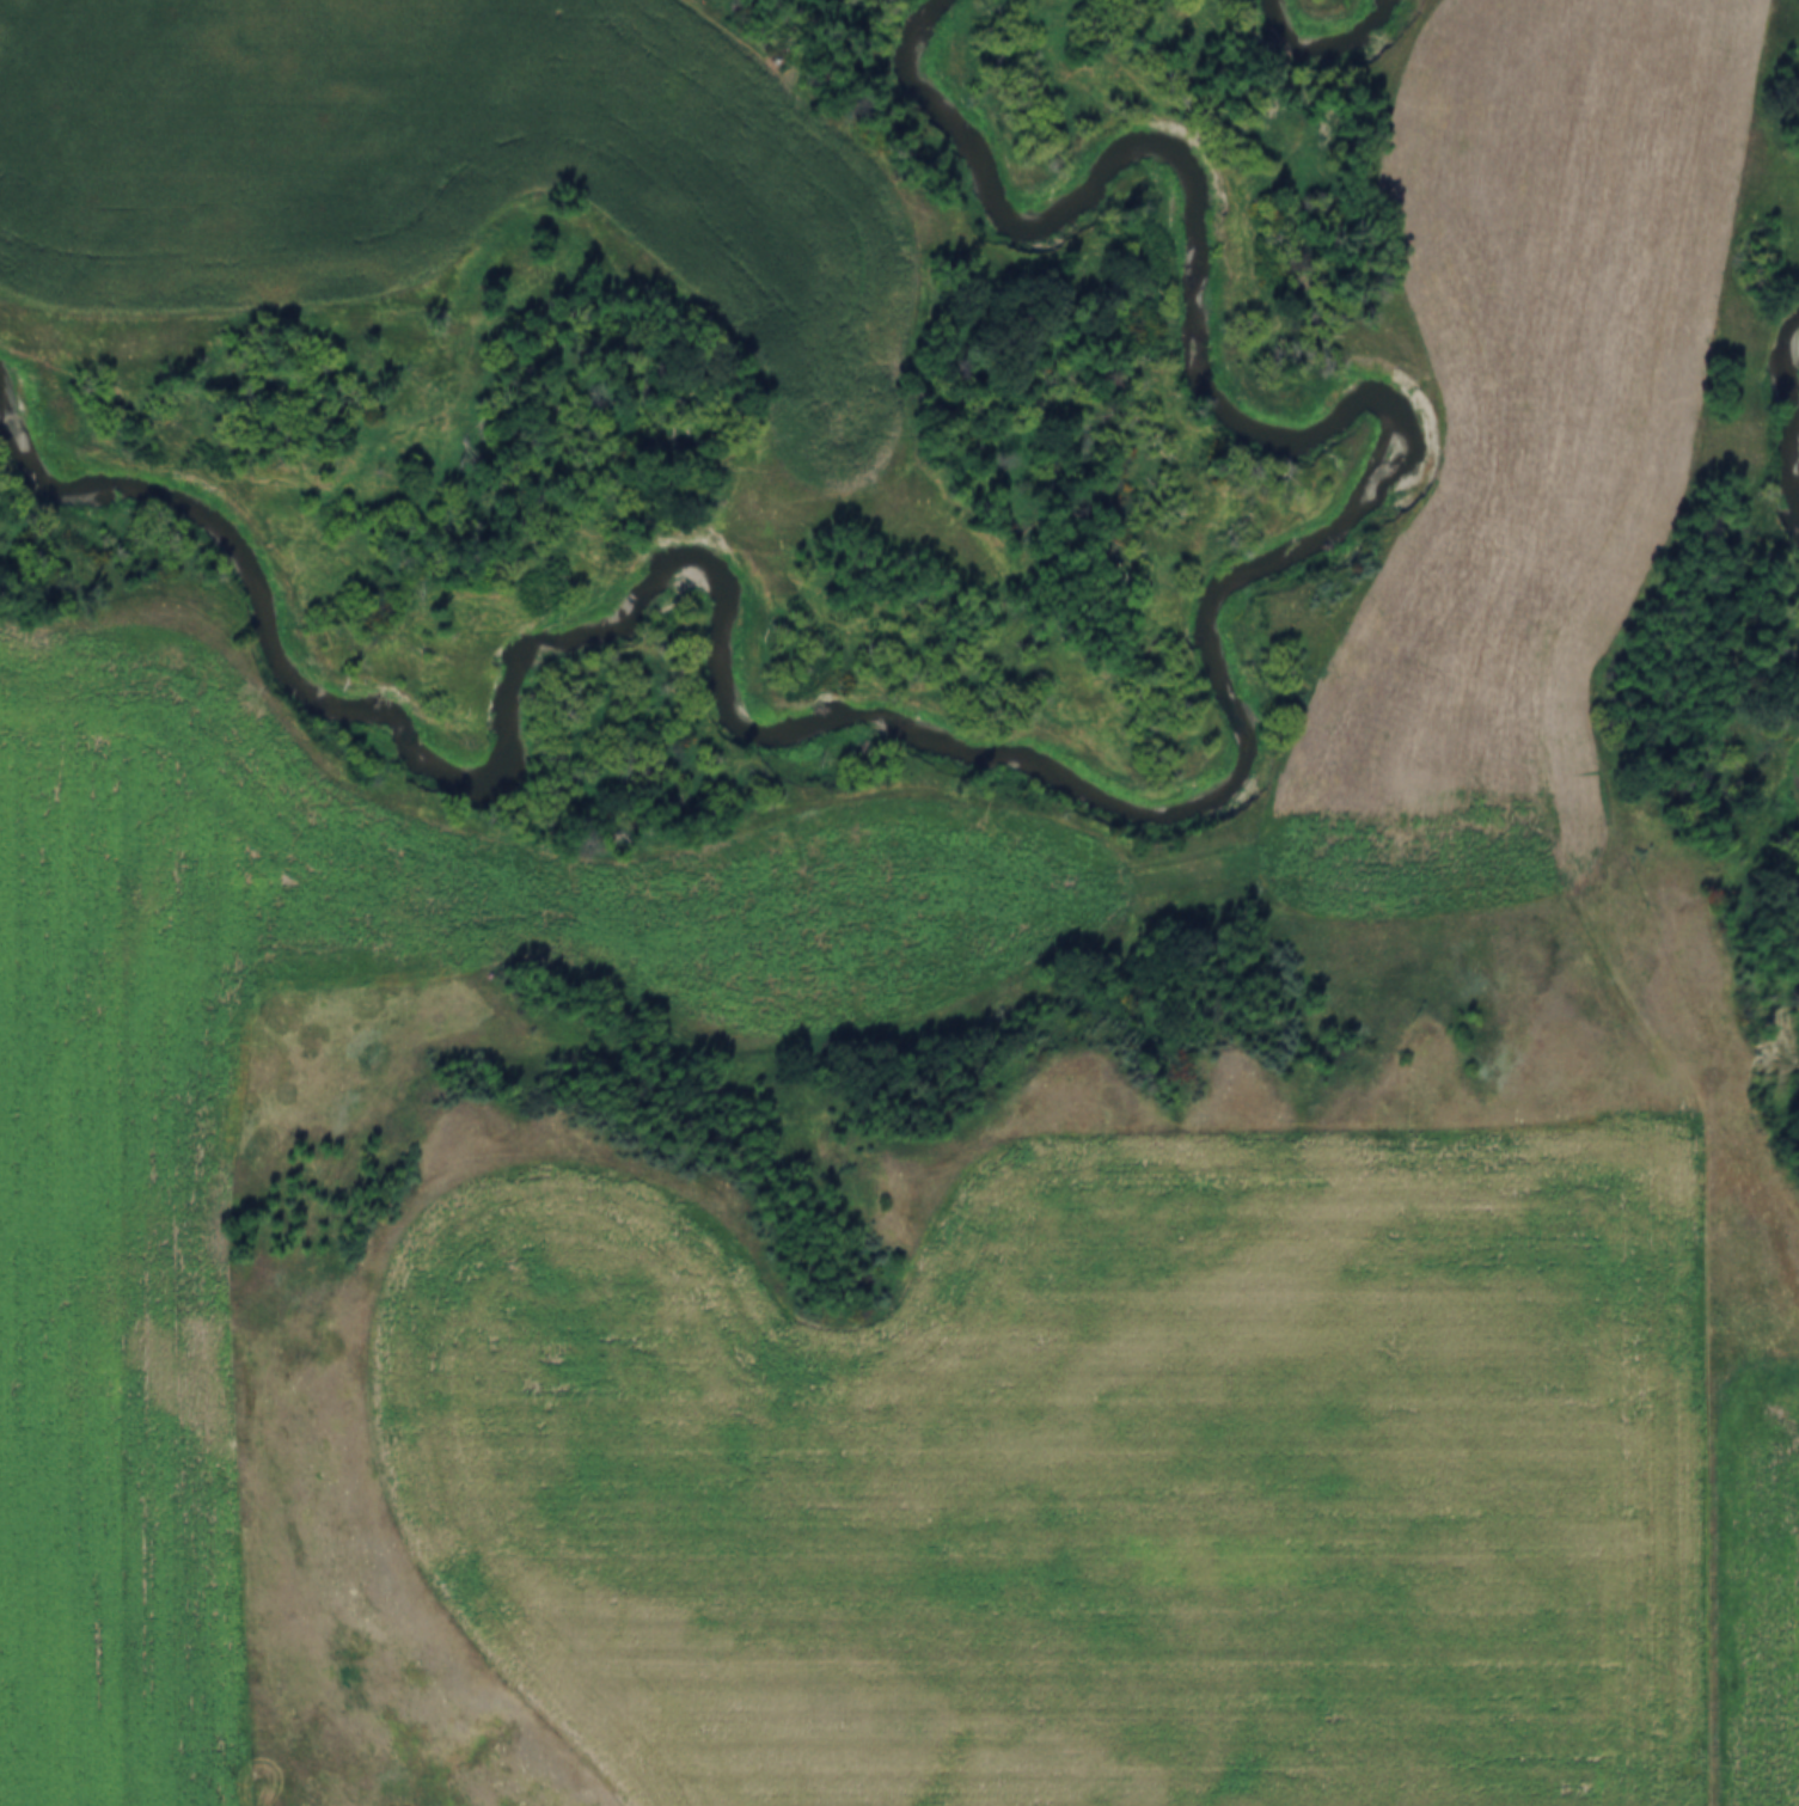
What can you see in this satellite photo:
road: (1730, 1707)

